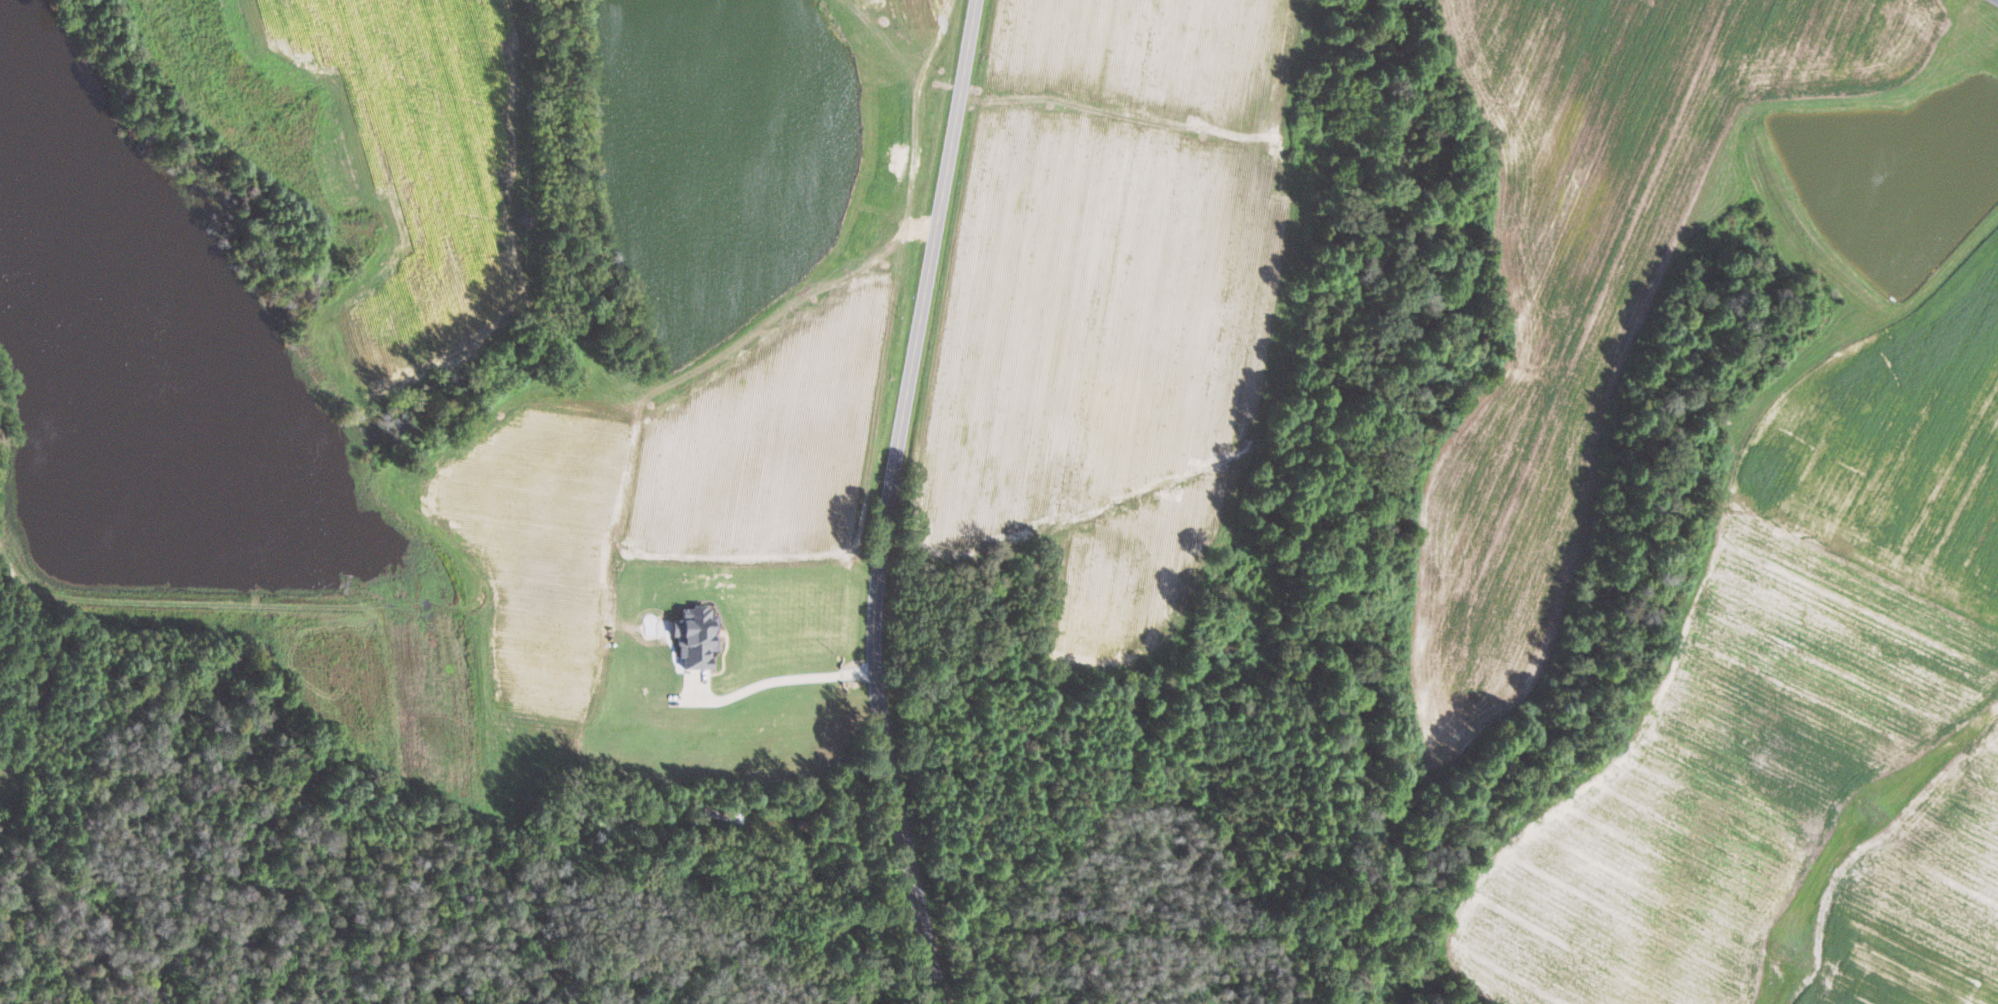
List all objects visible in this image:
road: (887, 502)
building: (695, 637)
road: (782, 677)
river: (182, 979)

